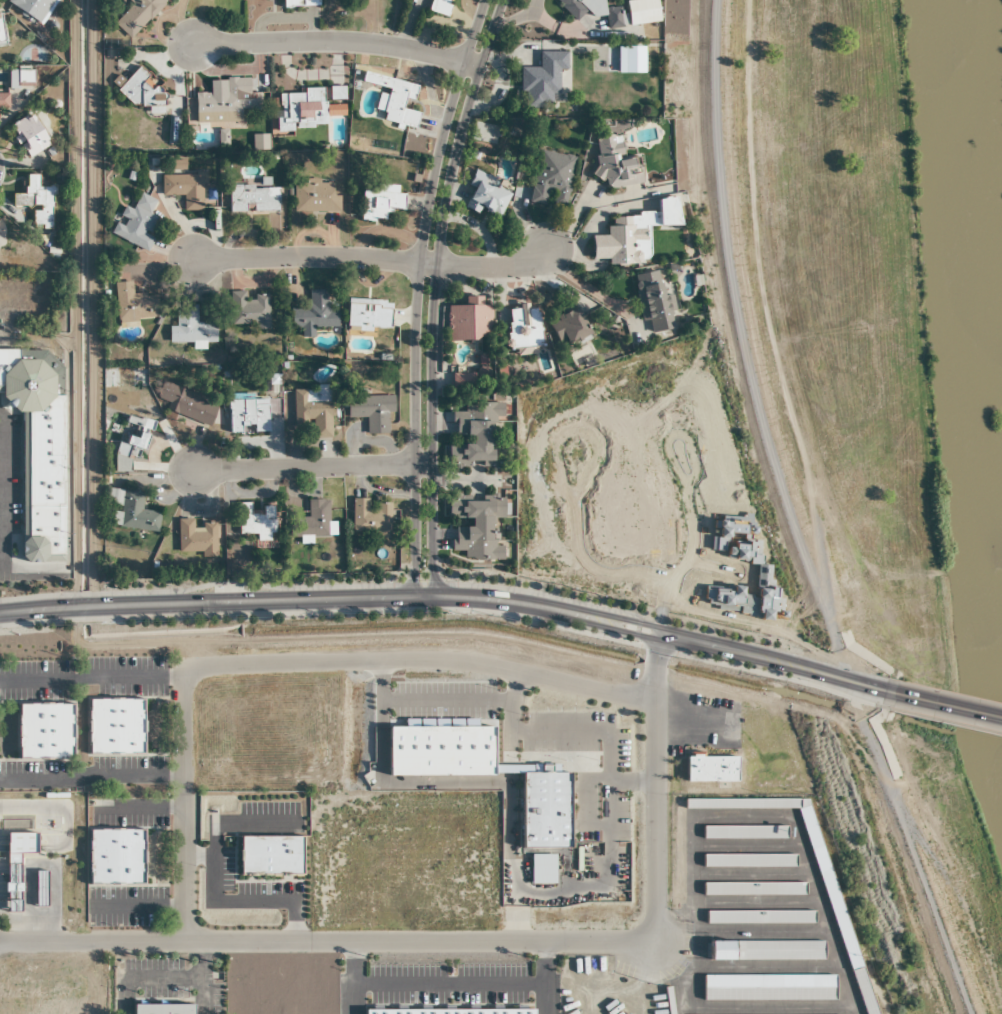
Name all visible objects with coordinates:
building: (299, 2)
building: (31, 7)
building: (438, 7)
building: (568, 8)
building: (641, 11)
building: (137, 15)
building: (614, 17)
building: (0, 35)
road: (328, 42)
road: (472, 64)
building: (542, 80)
building: (141, 90)
building: (335, 93)
building: (3, 100)
building: (394, 100)
building: (224, 103)
building: (304, 110)
building: (28, 135)
building: (551, 179)
building: (185, 189)
building: (484, 196)
building: (314, 197)
building: (36, 198)
building: (253, 199)
building: (379, 202)
road: (587, 208)
river: (983, 208)
building: (138, 223)
road: (374, 259)
road: (587, 287)
road: (417, 293)
road: (436, 293)
building: (133, 304)
building: (248, 310)
building: (313, 314)
building: (368, 315)
building: (469, 320)
building: (523, 326)
building: (569, 327)
building: (190, 328)
road: (743, 348)
building: (462, 382)
building: (187, 405)
building: (371, 411)
building: (311, 413)
building: (247, 415)
building: (129, 447)
building: (32, 459)
road: (313, 467)
parking lot: (5, 487)
building: (131, 511)
building: (370, 519)
building: (316, 521)
building: (256, 523)
building: (196, 538)
road: (455, 595)
road: (288, 663)
road: (655, 669)
road: (950, 708)
building: (115, 727)
building: (45, 732)
road: (91, 775)
road: (904, 848)
building: (115, 857)
building: (269, 857)
building: (12, 888)
building: (40, 889)
road: (92, 941)
road: (538, 943)
building: (162, 1009)
building: (449, 1011)

